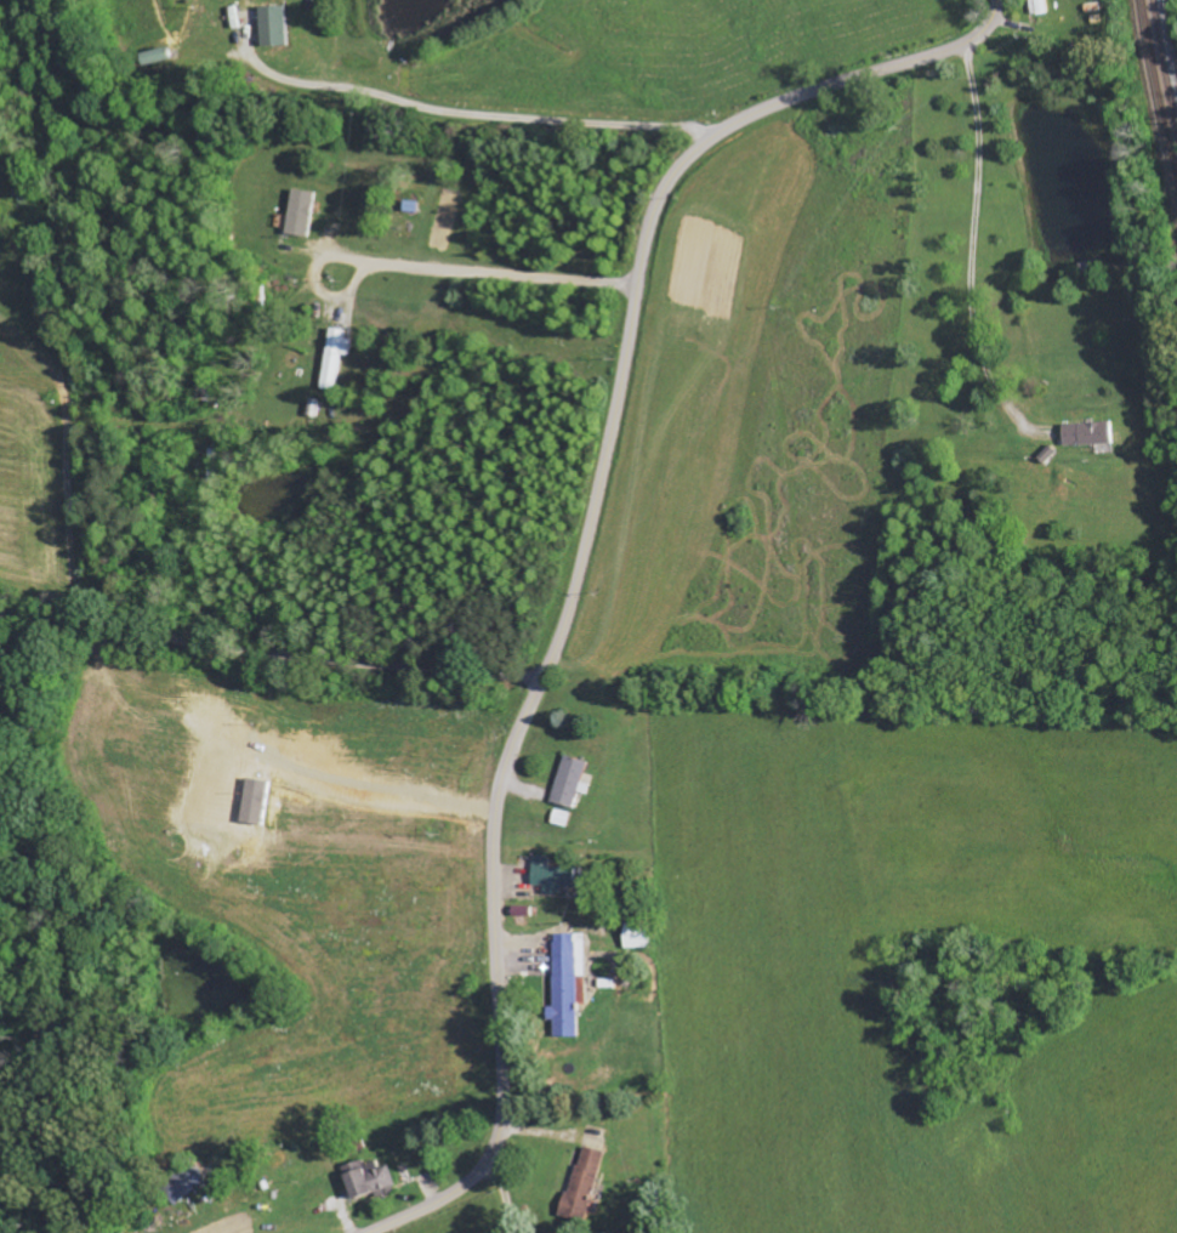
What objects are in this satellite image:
building: (1037, 6)
building: (271, 25)
railway: (1164, 66)
railway: (1158, 92)
building: (298, 212)
building: (332, 354)
building: (1087, 433)
road: (582, 552)
road: (269, 653)
building: (569, 782)
building: (551, 876)
road: (739, 904)
building: (567, 983)
building: (366, 1178)
building: (582, 1183)
building: (183, 1184)
road: (500, 1195)

